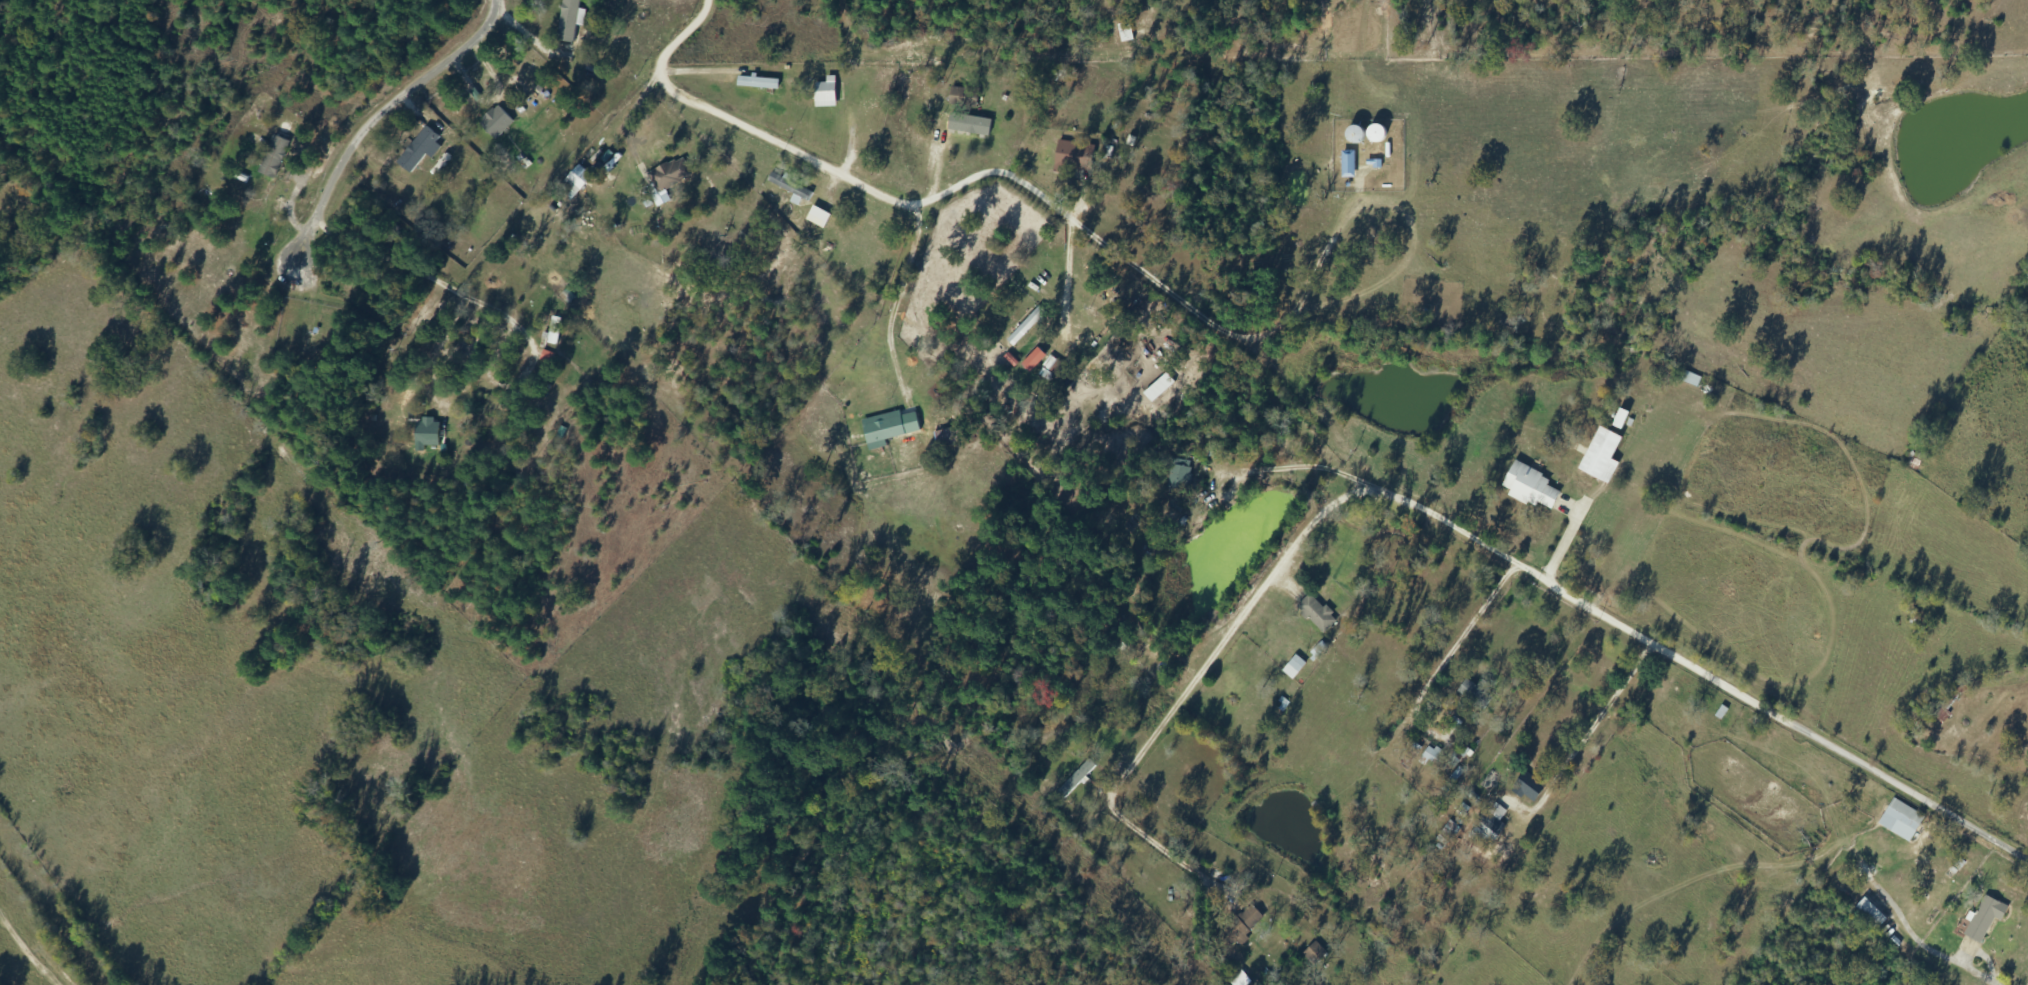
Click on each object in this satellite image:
building: (573, 22)
road: (110, 42)
building: (757, 84)
building: (824, 94)
building: (962, 99)
building: (494, 123)
building: (1373, 136)
building: (1351, 137)
building: (416, 151)
building: (271, 162)
building: (1346, 166)
building: (787, 187)
road: (930, 192)
road: (402, 211)
building: (817, 218)
building: (1024, 327)
building: (522, 395)
building: (505, 402)
building: (437, 409)
building: (881, 431)
building: (948, 437)
building: (1598, 456)
building: (1915, 462)
building: (1176, 475)
building: (1527, 487)
building: (1132, 525)
building: (1314, 615)
road: (1250, 635)
road: (1693, 666)
building: (1292, 668)
building: (1474, 694)
building: (1941, 709)
road: (1586, 736)
building: (1431, 758)
building: (1074, 779)
building: (1524, 785)
building: (1899, 821)
building: (1488, 826)
building: (1867, 915)
building: (1983, 919)
building: (1242, 926)
road: (24, 951)
building: (1313, 954)

